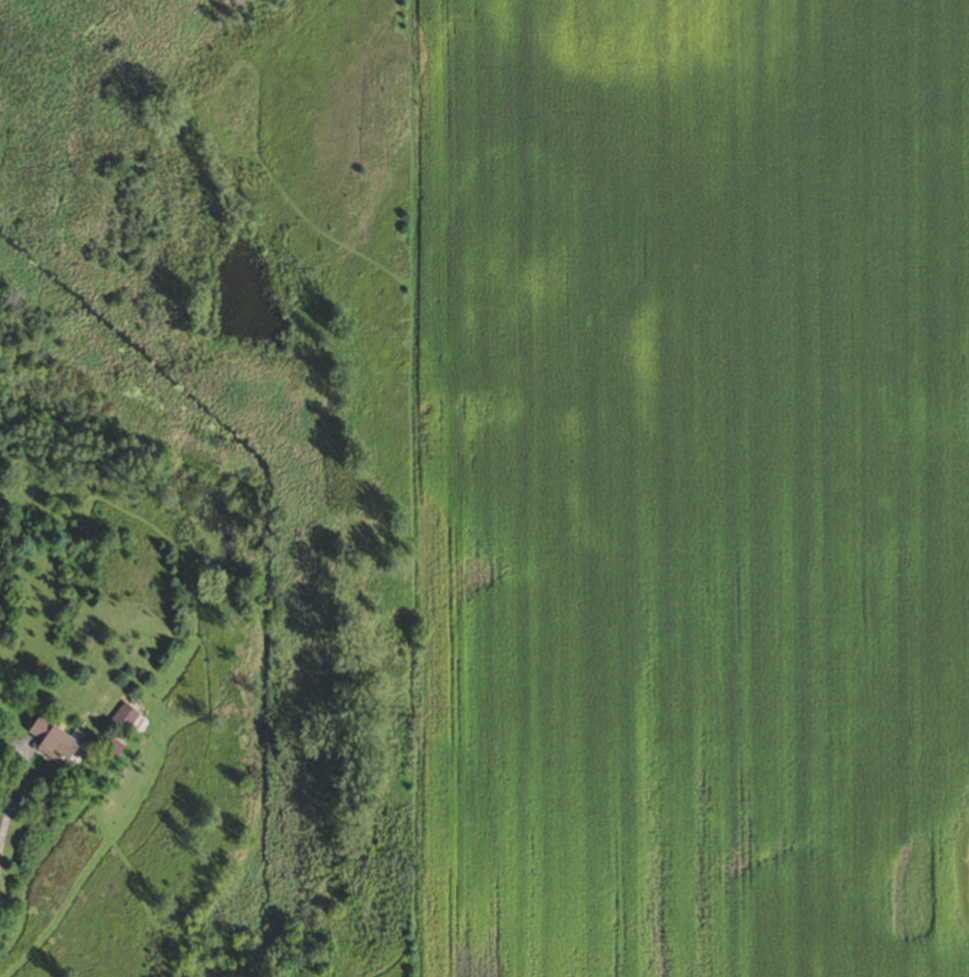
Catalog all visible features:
building: (49, 743)
road: (10, 790)

